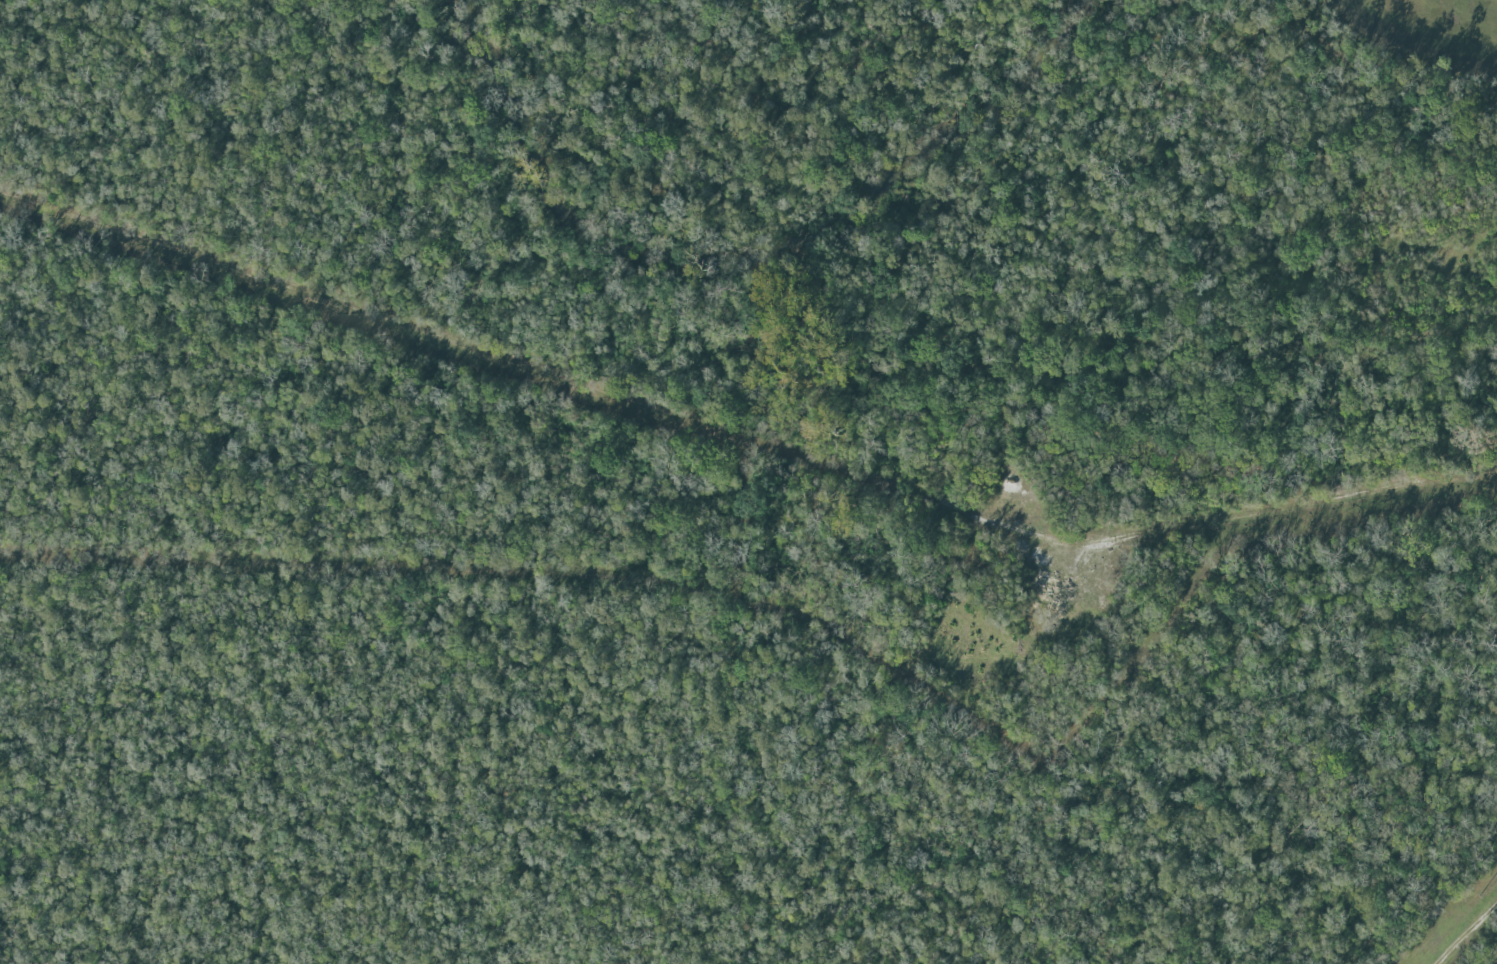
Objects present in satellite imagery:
road: (1292, 510)
road: (1465, 930)

